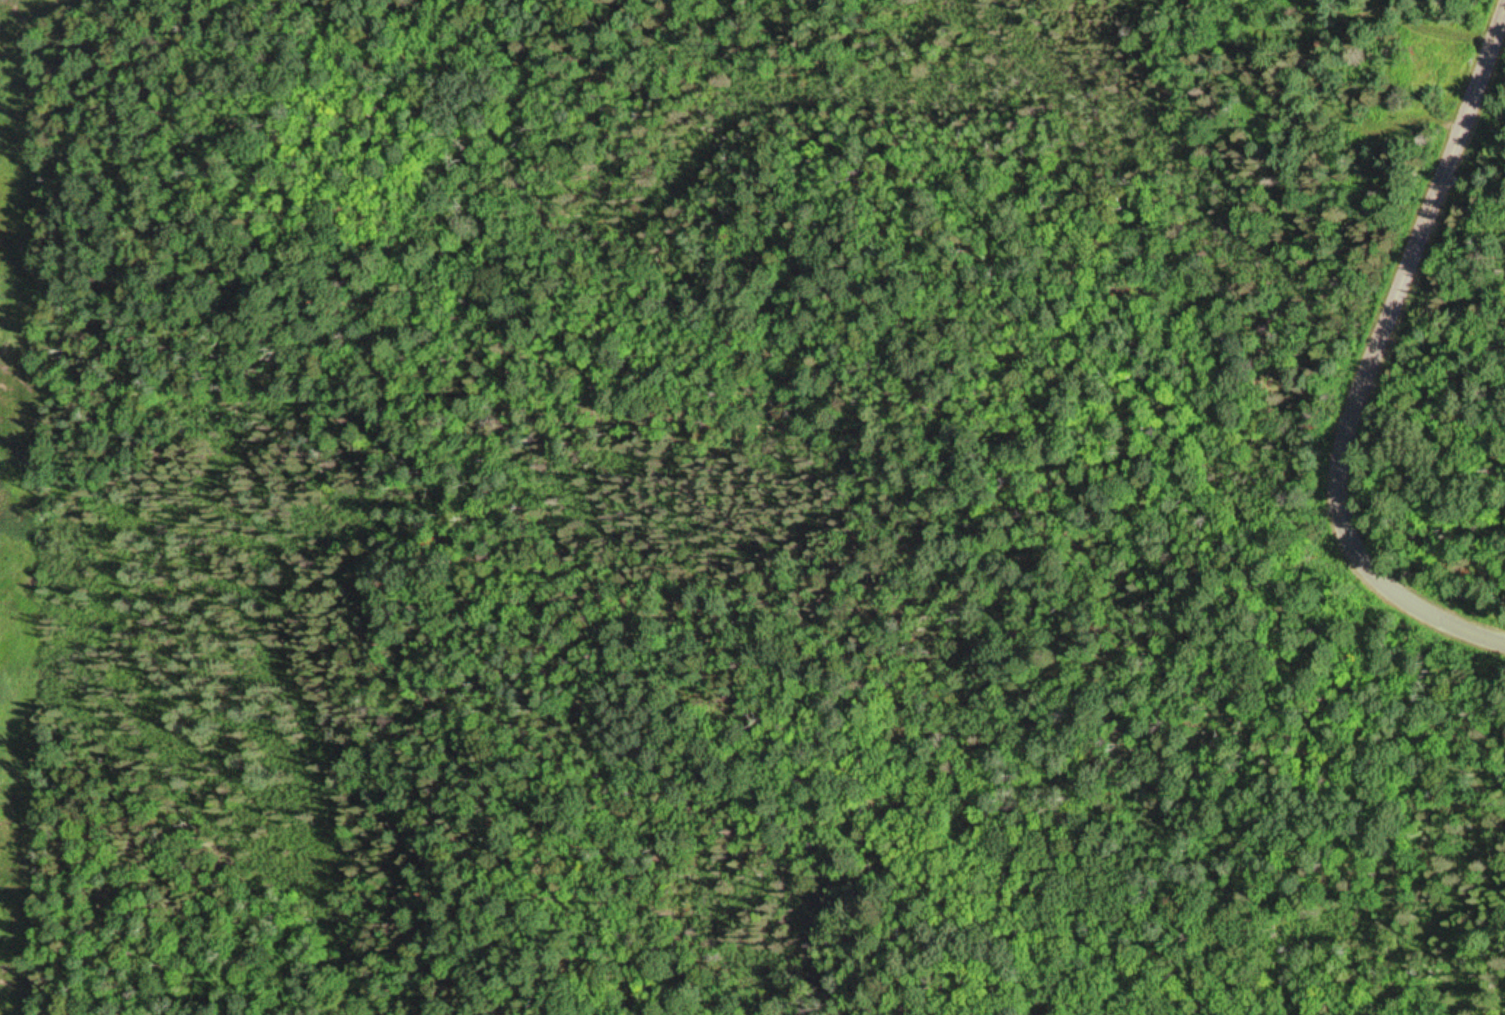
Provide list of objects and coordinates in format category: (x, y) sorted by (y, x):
road: (1371, 362)

